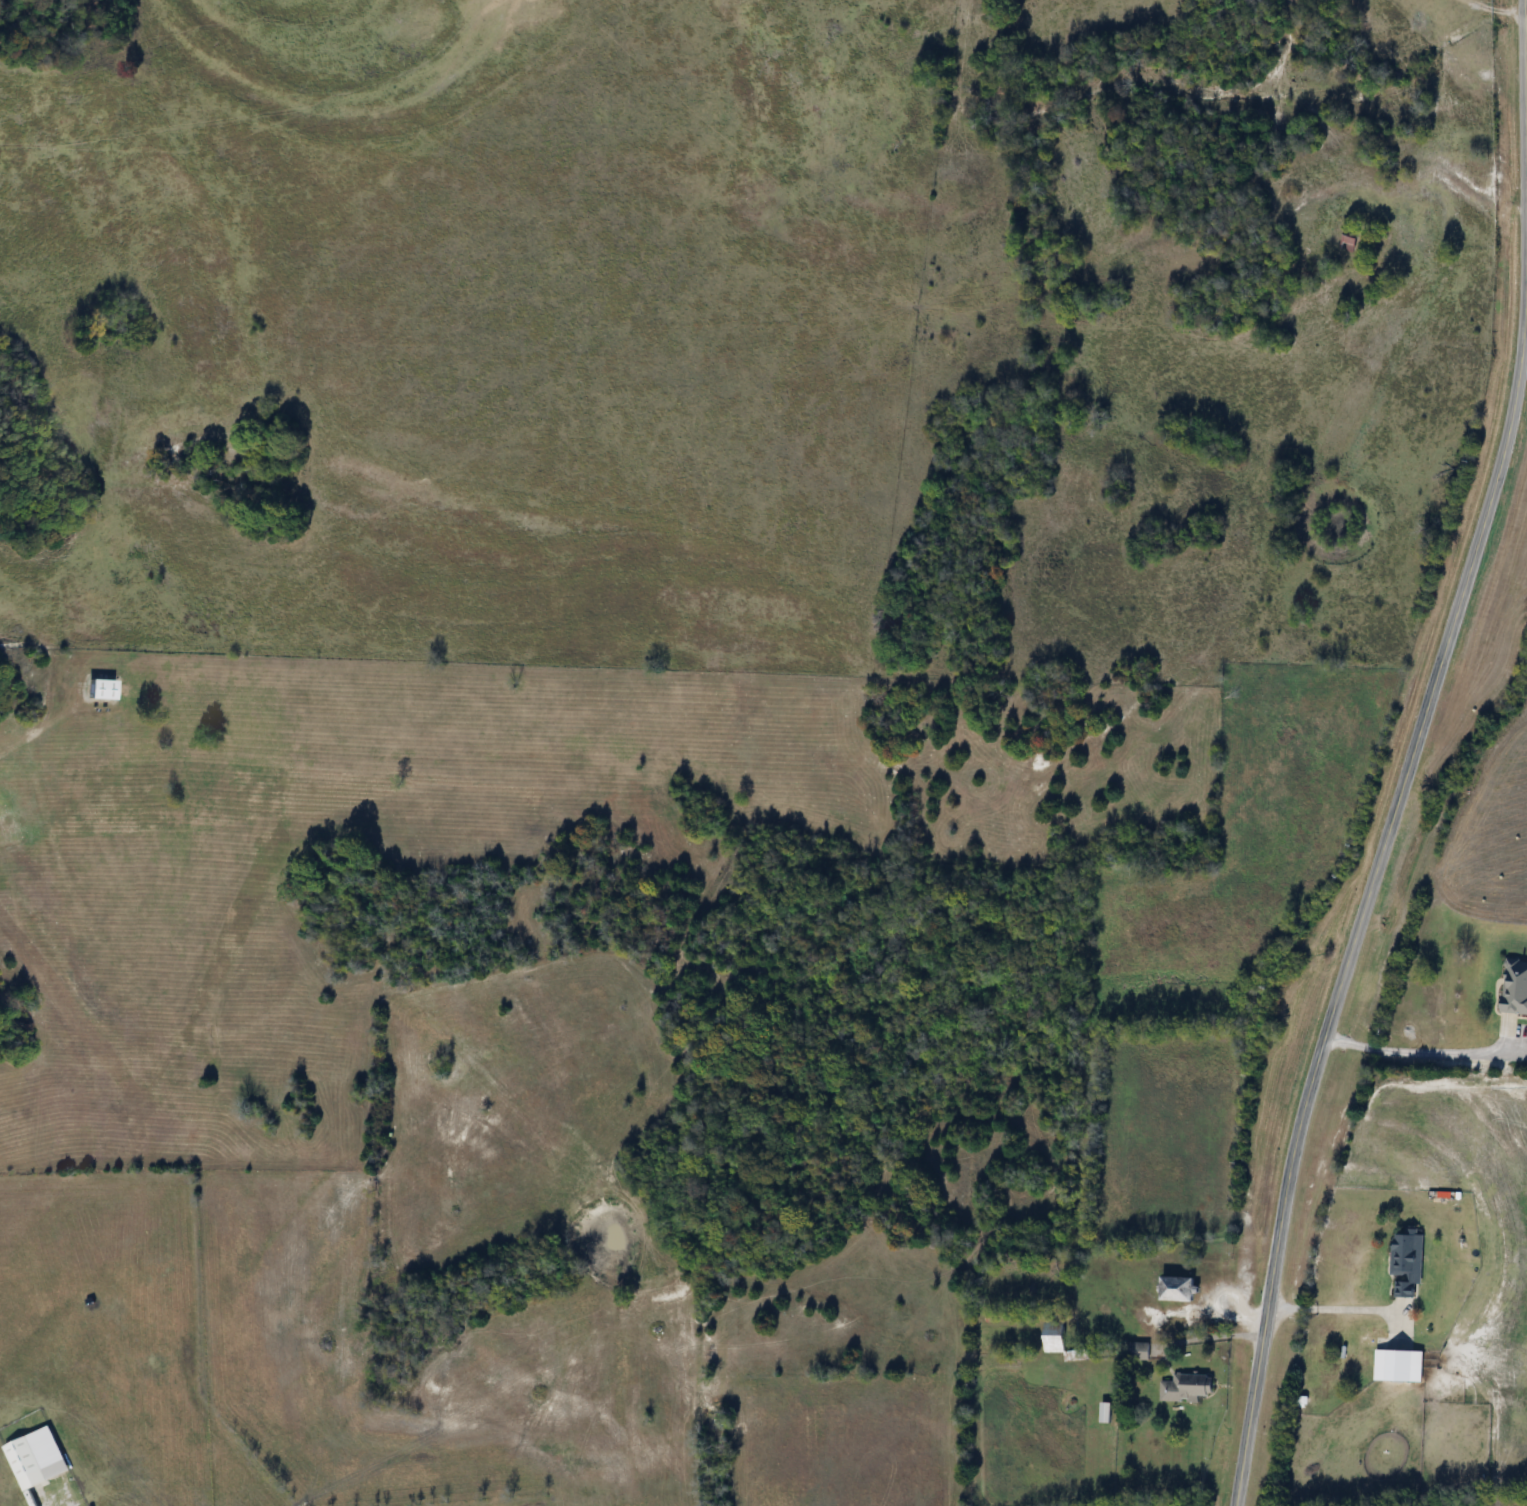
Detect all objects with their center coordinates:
road: (1526, 6)
road: (1499, 9)
building: (1350, 242)
building: (102, 691)
road: (1364, 912)
road: (1415, 1050)
building: (1408, 1263)
building: (1178, 1290)
road: (1334, 1304)
building: (1055, 1337)
building: (1139, 1352)
building: (1399, 1366)
building: (1186, 1389)
building: (1106, 1413)
building: (37, 1459)

